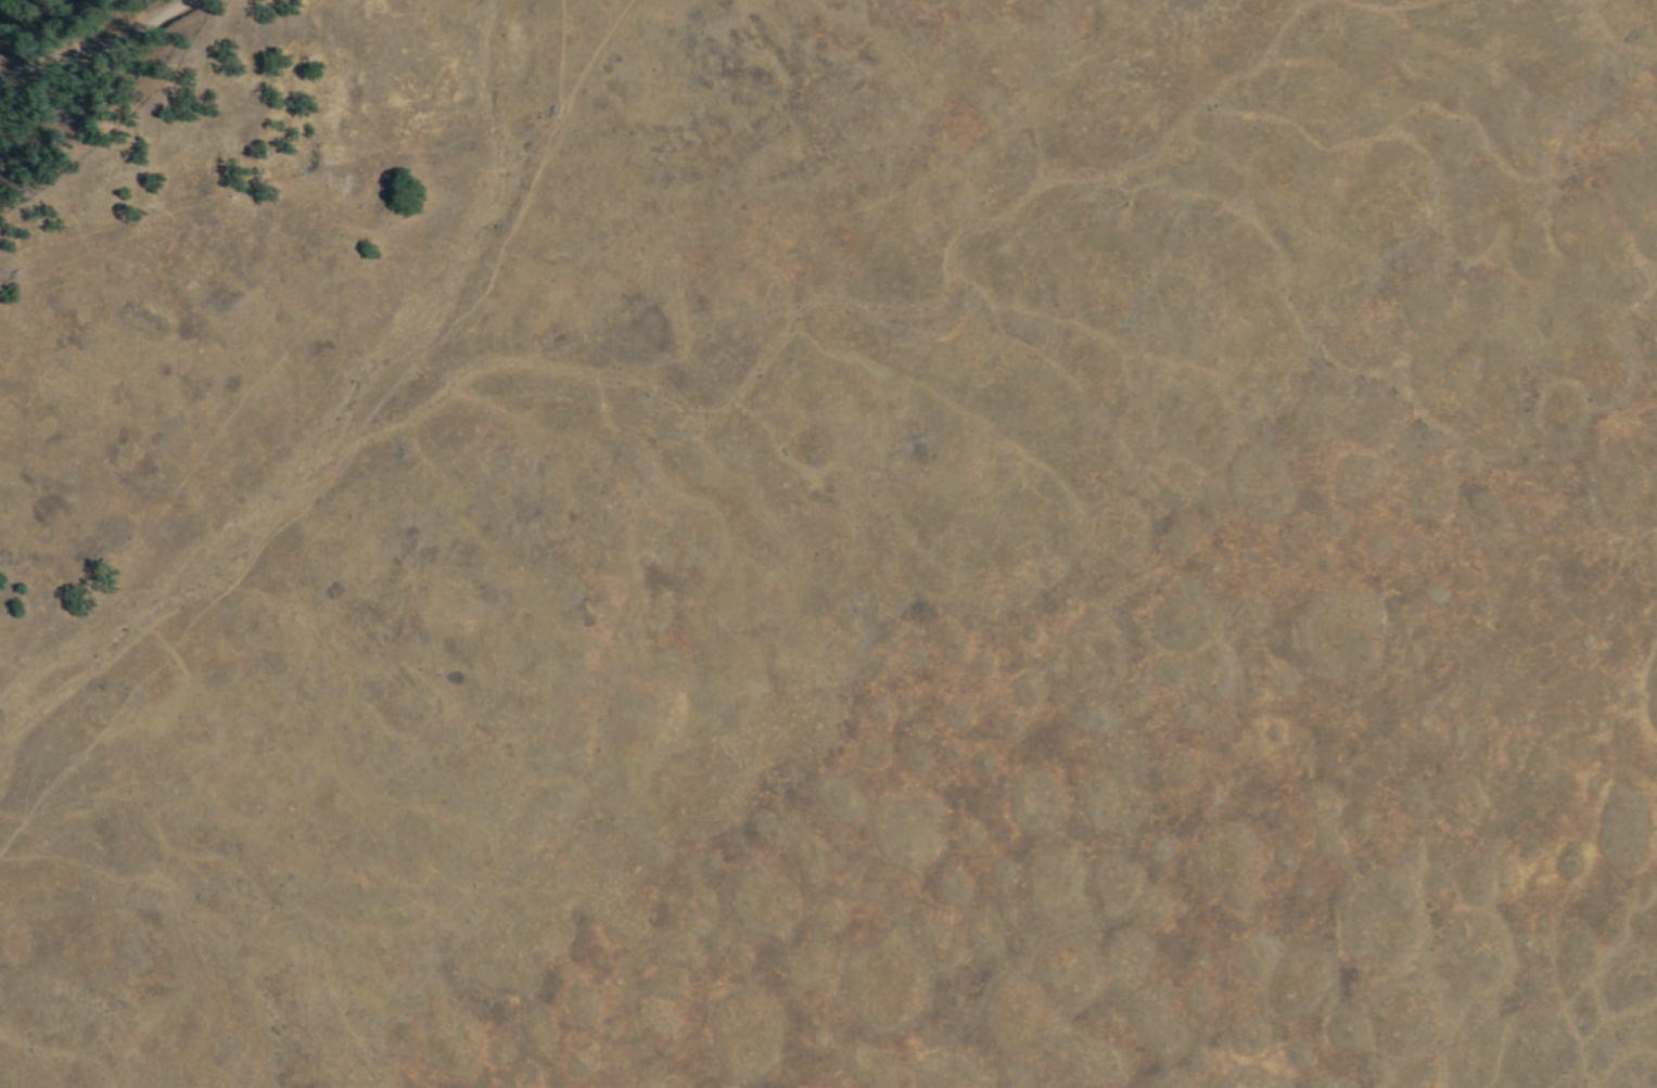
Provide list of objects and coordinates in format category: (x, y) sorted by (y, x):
road: (94, 47)

